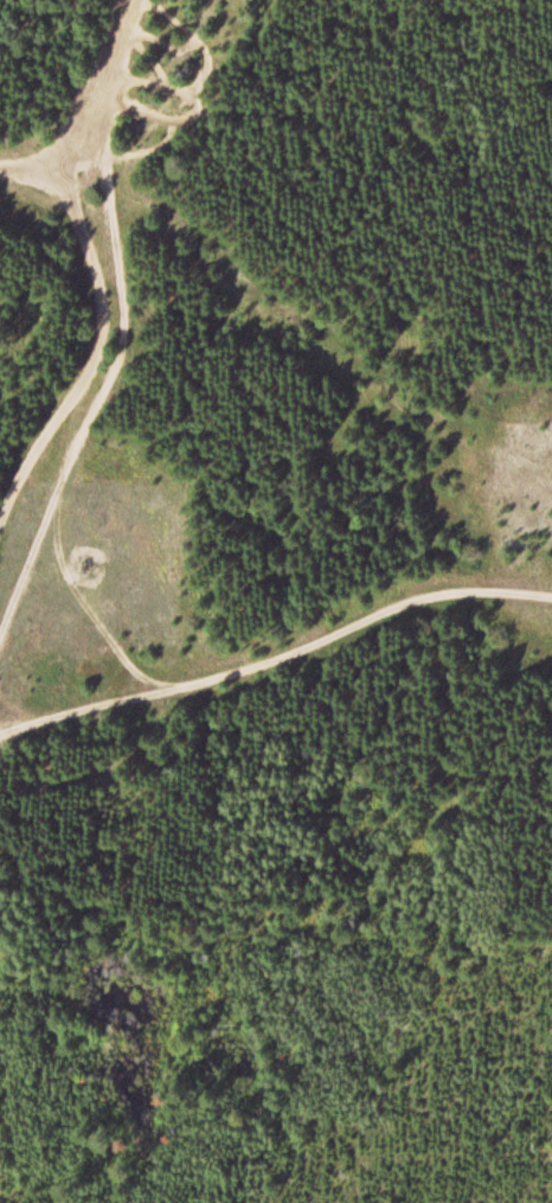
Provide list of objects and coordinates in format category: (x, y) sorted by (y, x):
road: (107, 20)
road: (17, 25)
road: (77, 119)
road: (121, 341)
road: (85, 354)
petroleum well: (82, 563)
road: (94, 604)
road: (275, 650)

